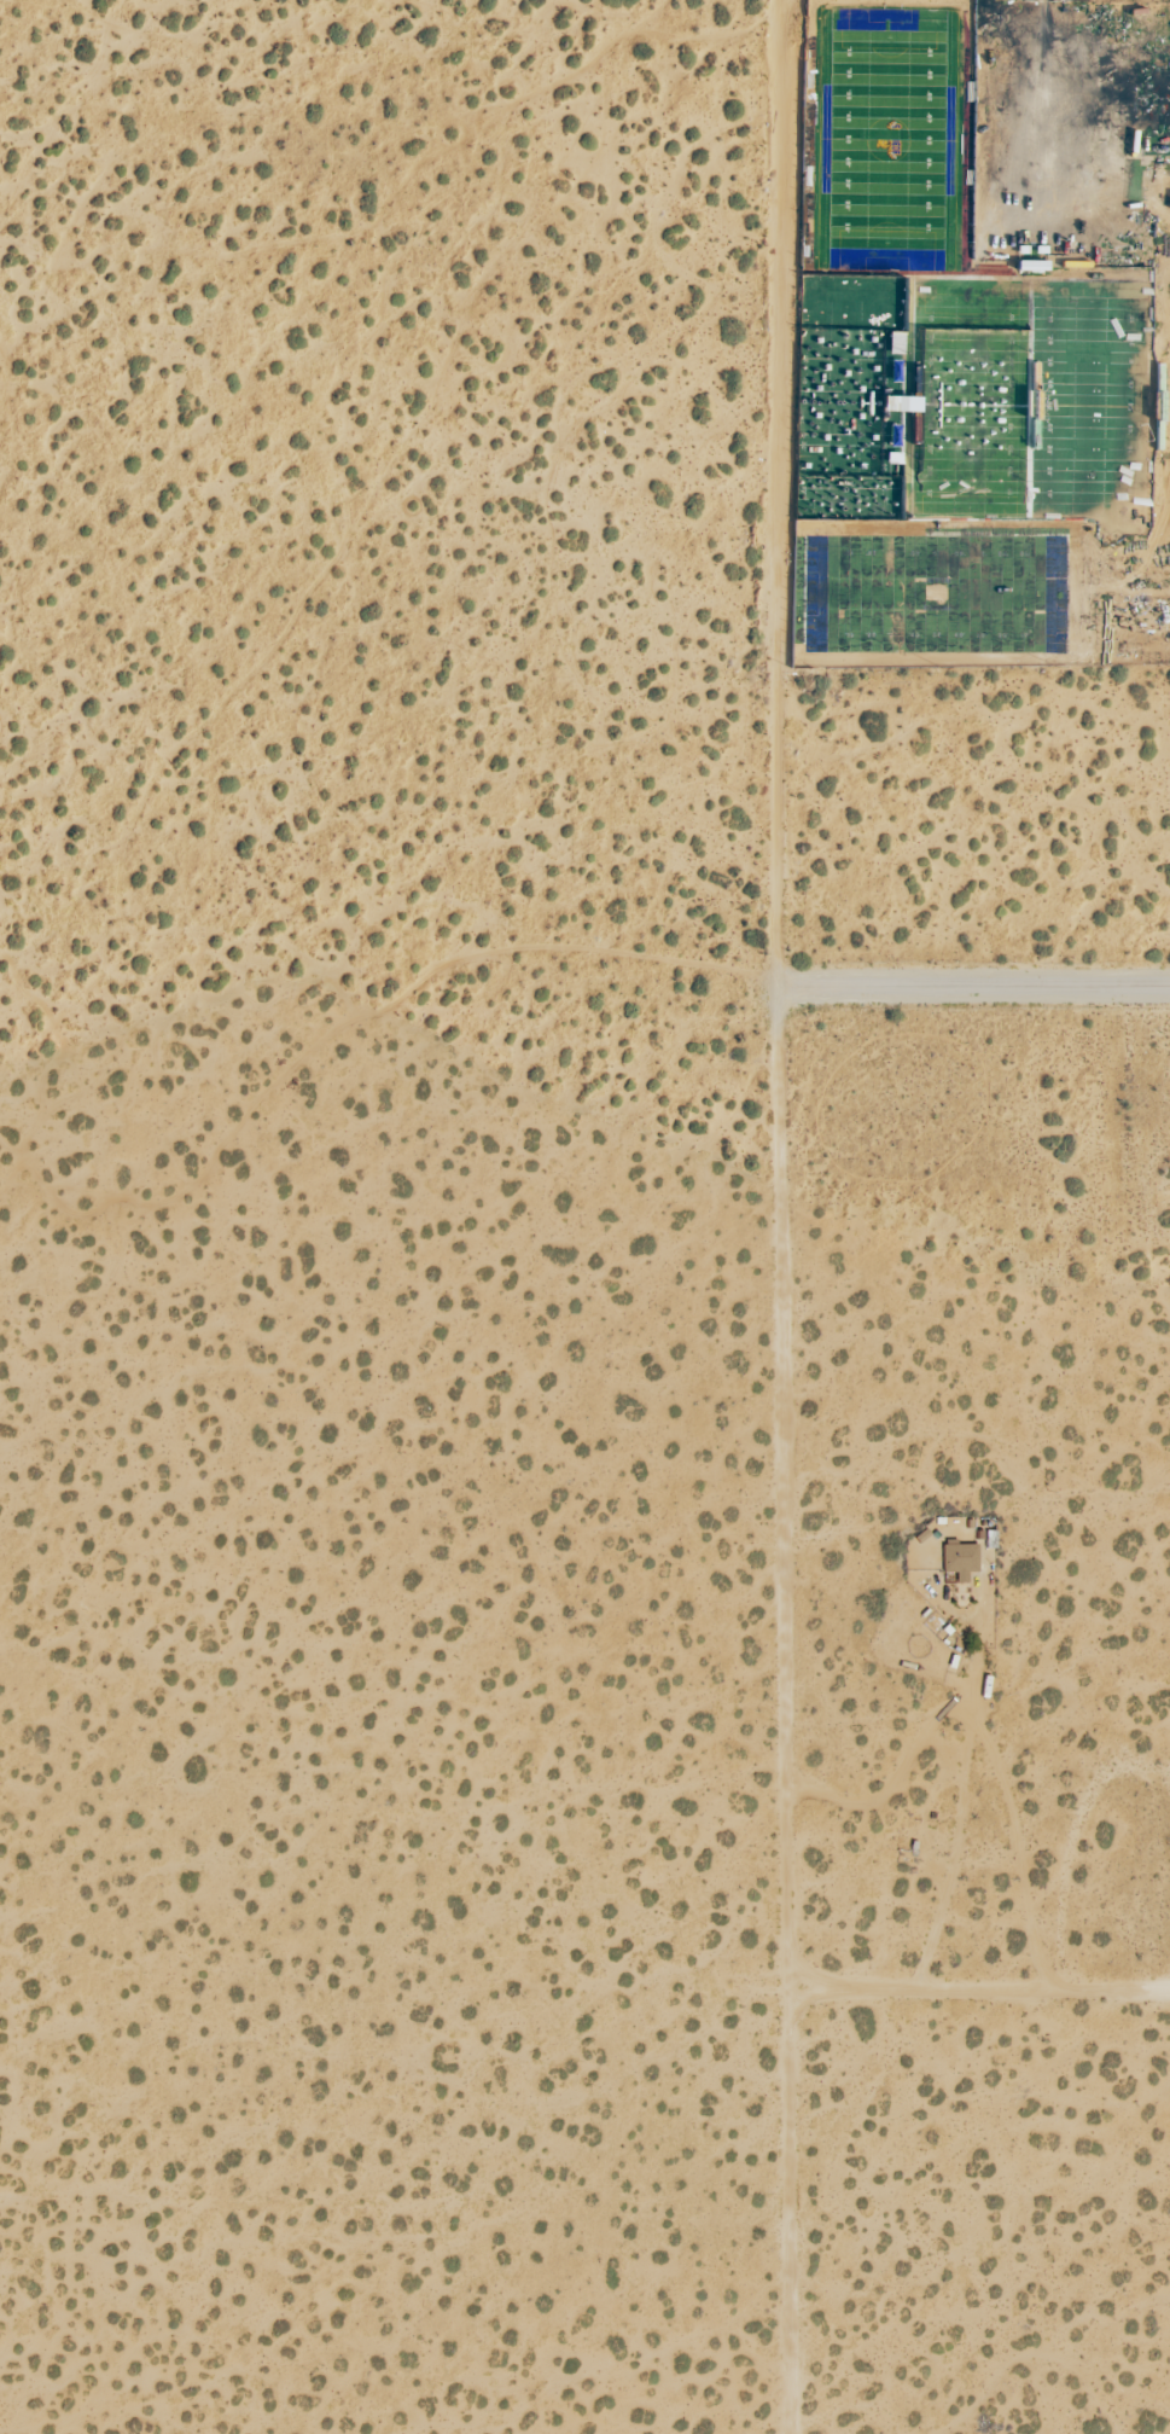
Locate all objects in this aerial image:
road: (974, 984)
road: (781, 1216)
road: (982, 1731)
road: (977, 1987)

